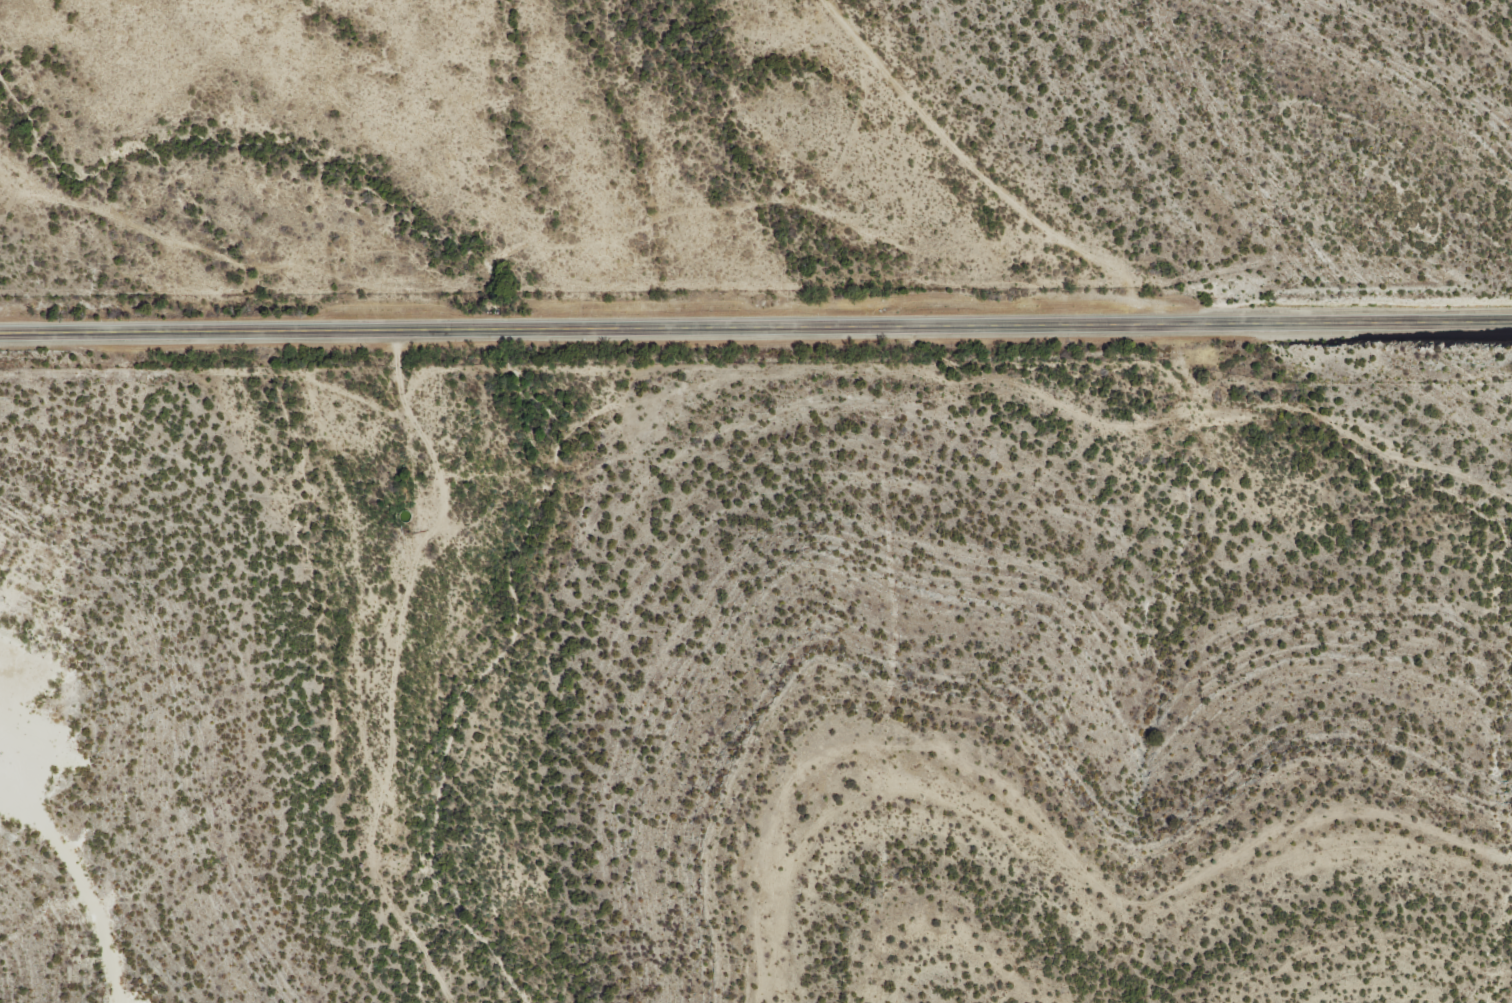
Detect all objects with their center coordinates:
road: (755, 325)

